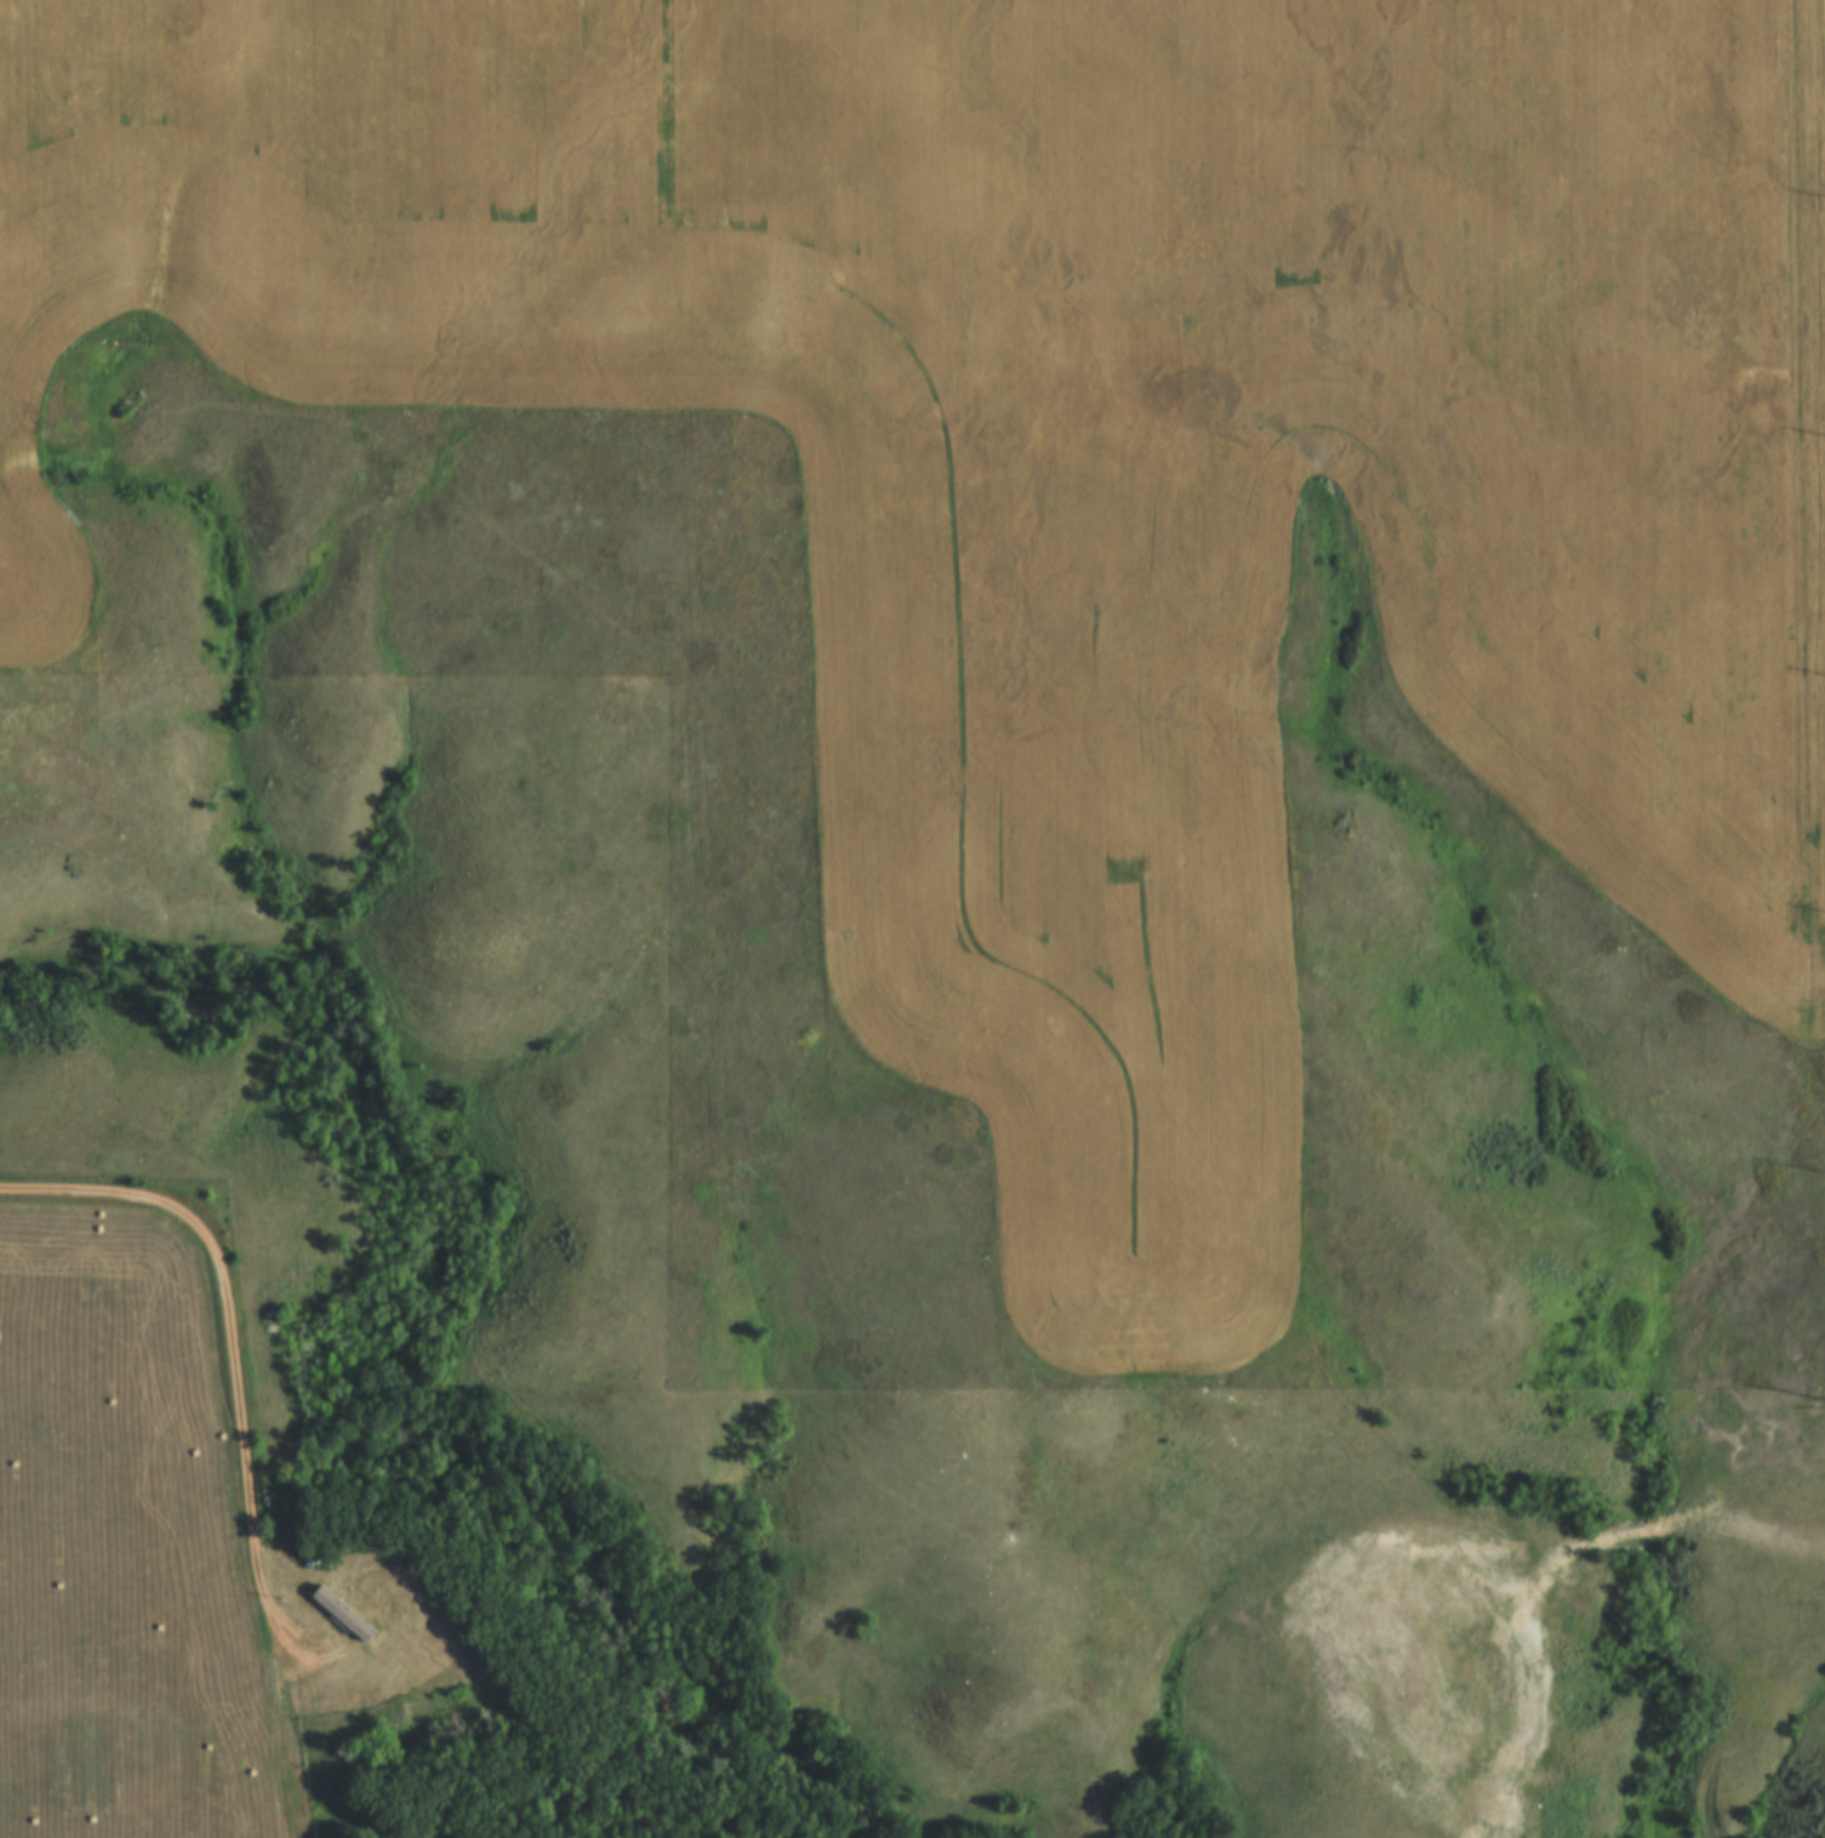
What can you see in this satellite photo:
road: (213, 1353)
building: (343, 1610)
road: (274, 1746)

